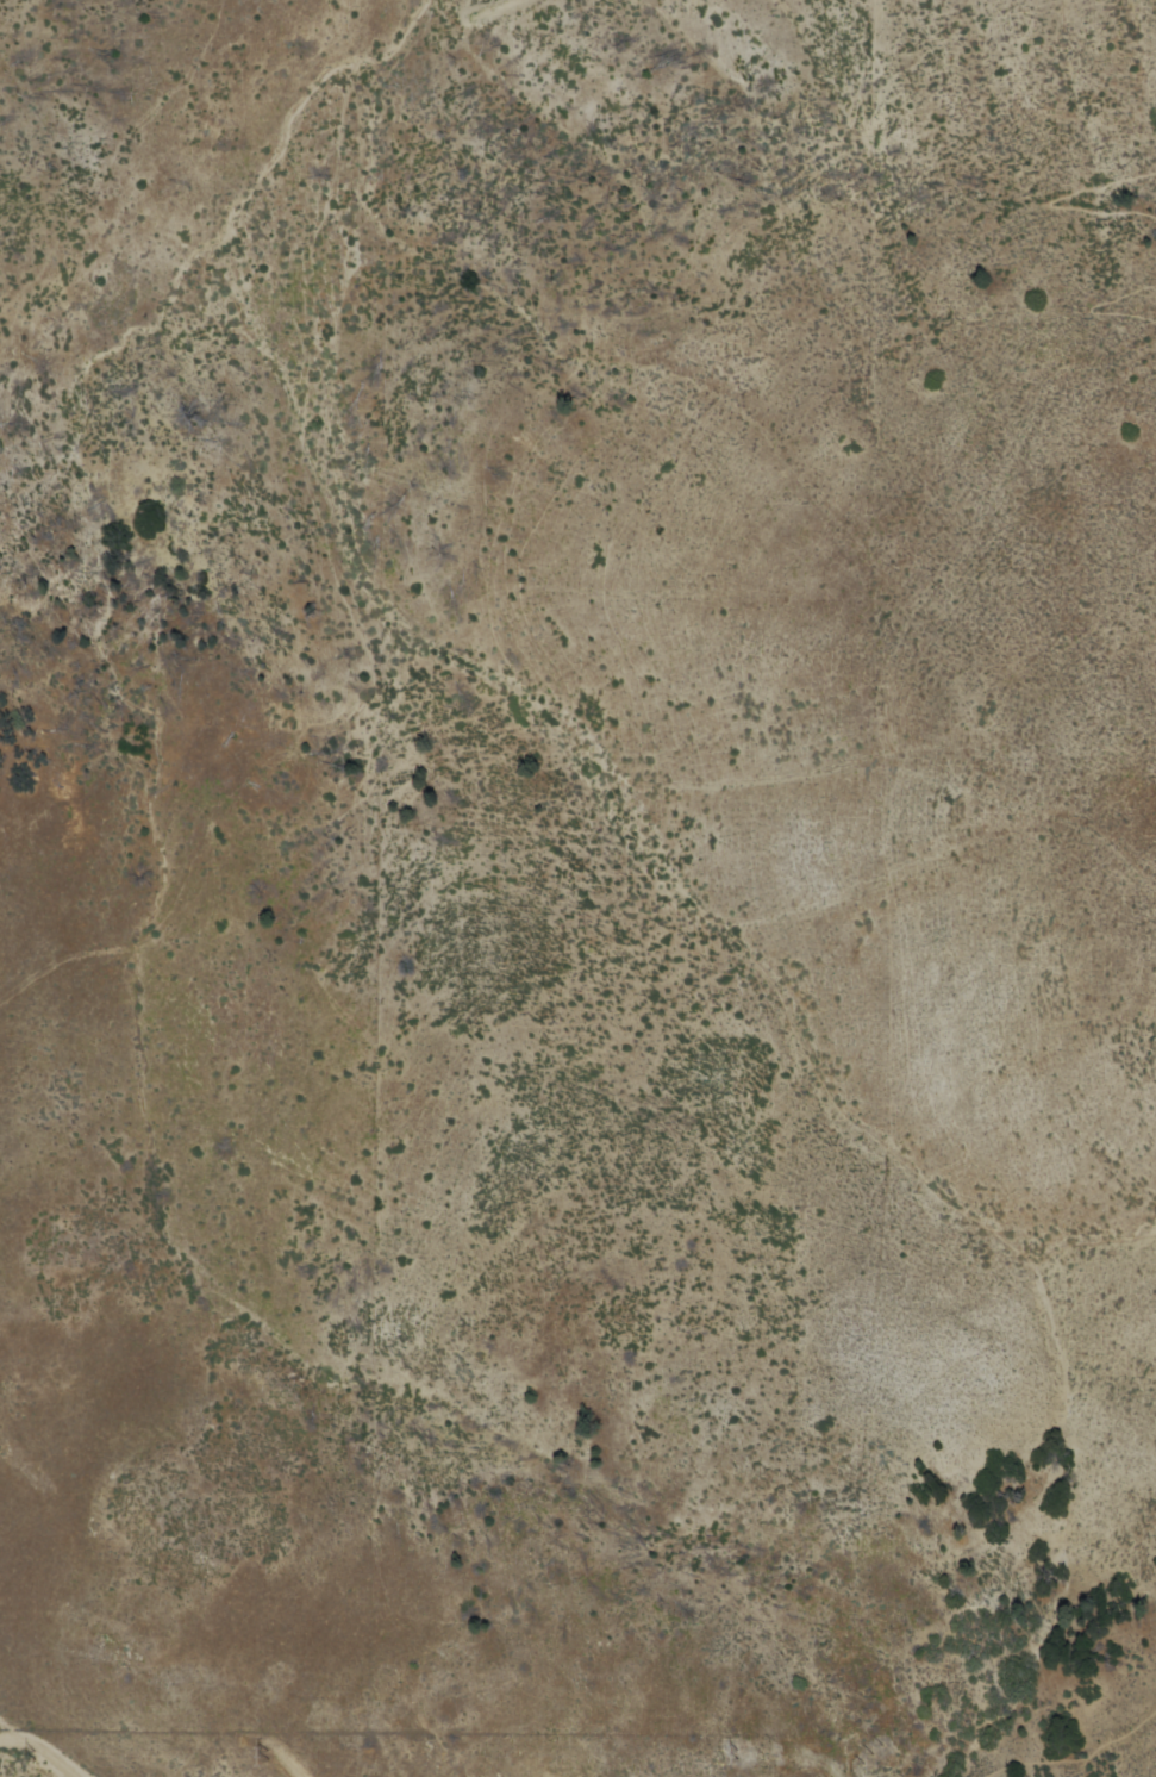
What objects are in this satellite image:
road: (1051, 206)
road: (1089, 311)
road: (1064, 1757)
road: (833, 1770)

